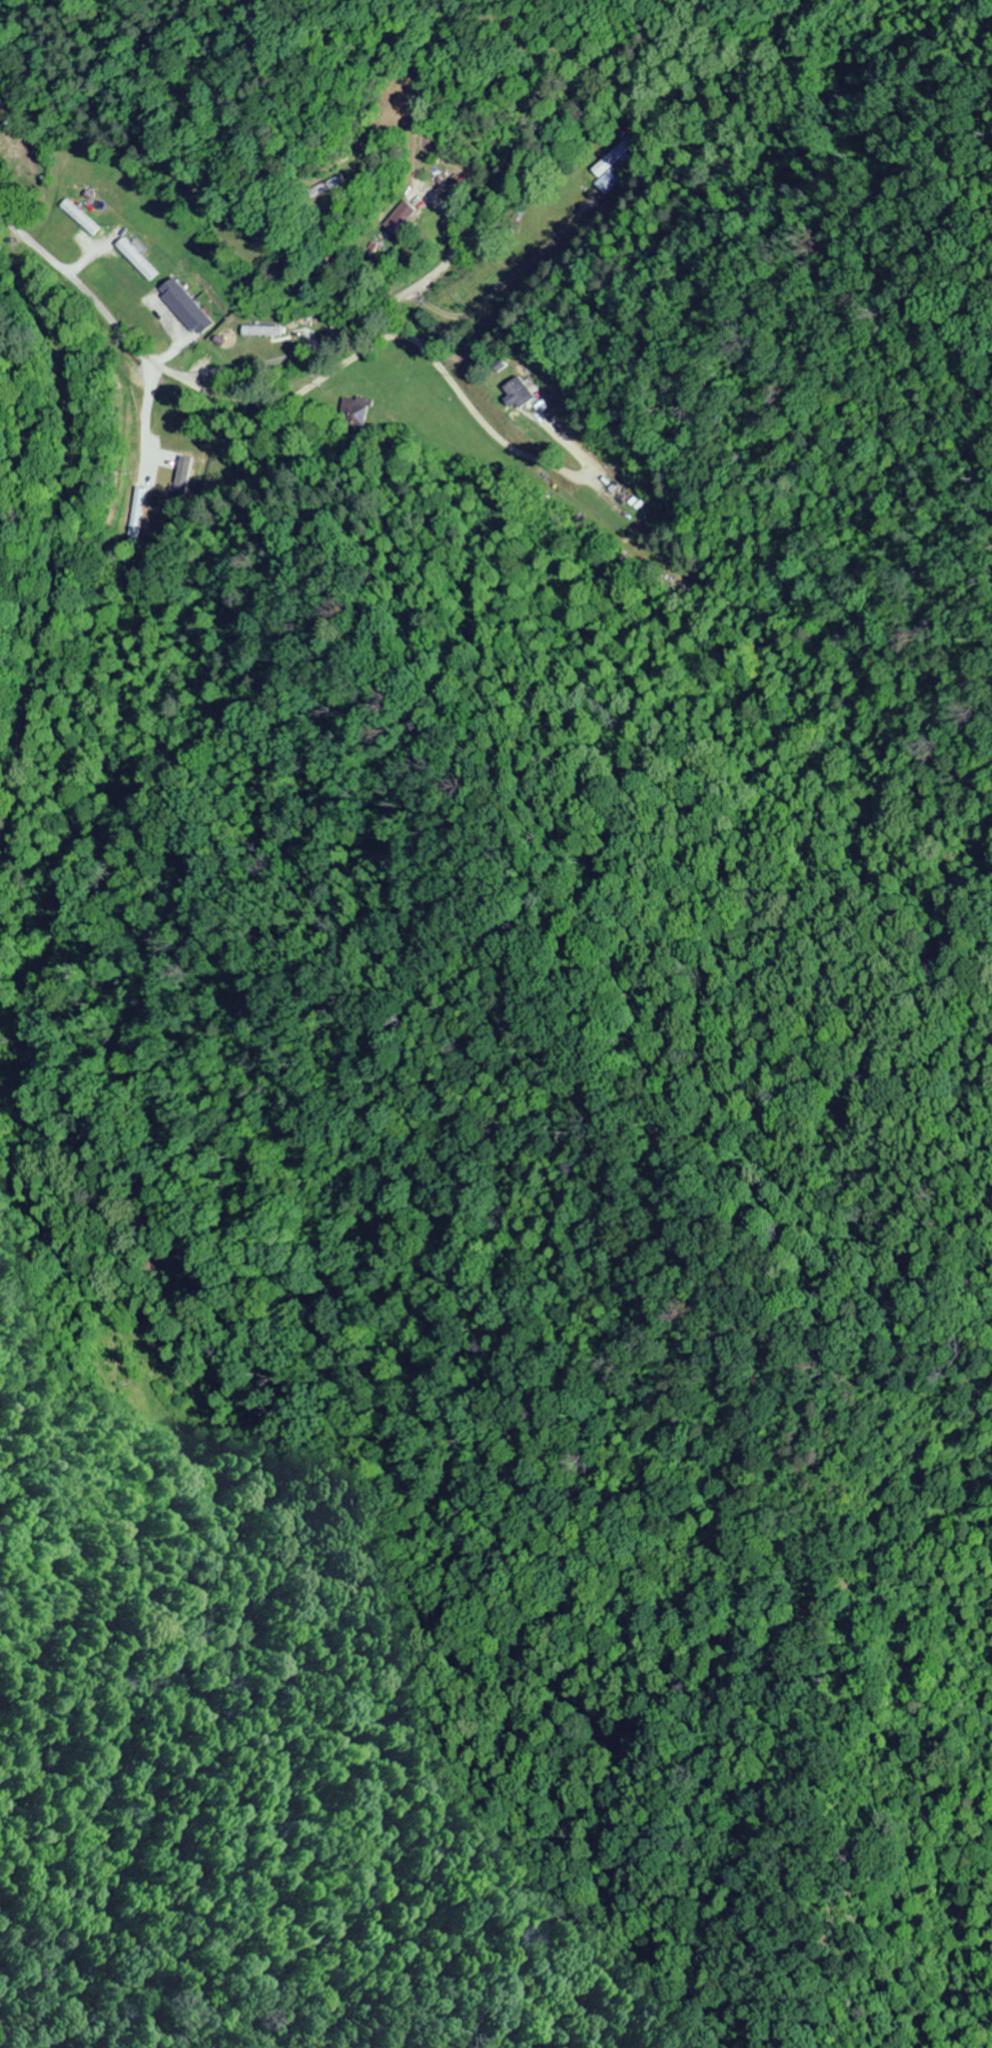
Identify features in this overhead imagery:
building: (605, 165)
building: (398, 216)
building: (136, 264)
building: (258, 331)
road: (196, 382)
building: (516, 393)
building: (140, 402)
building: (353, 411)

